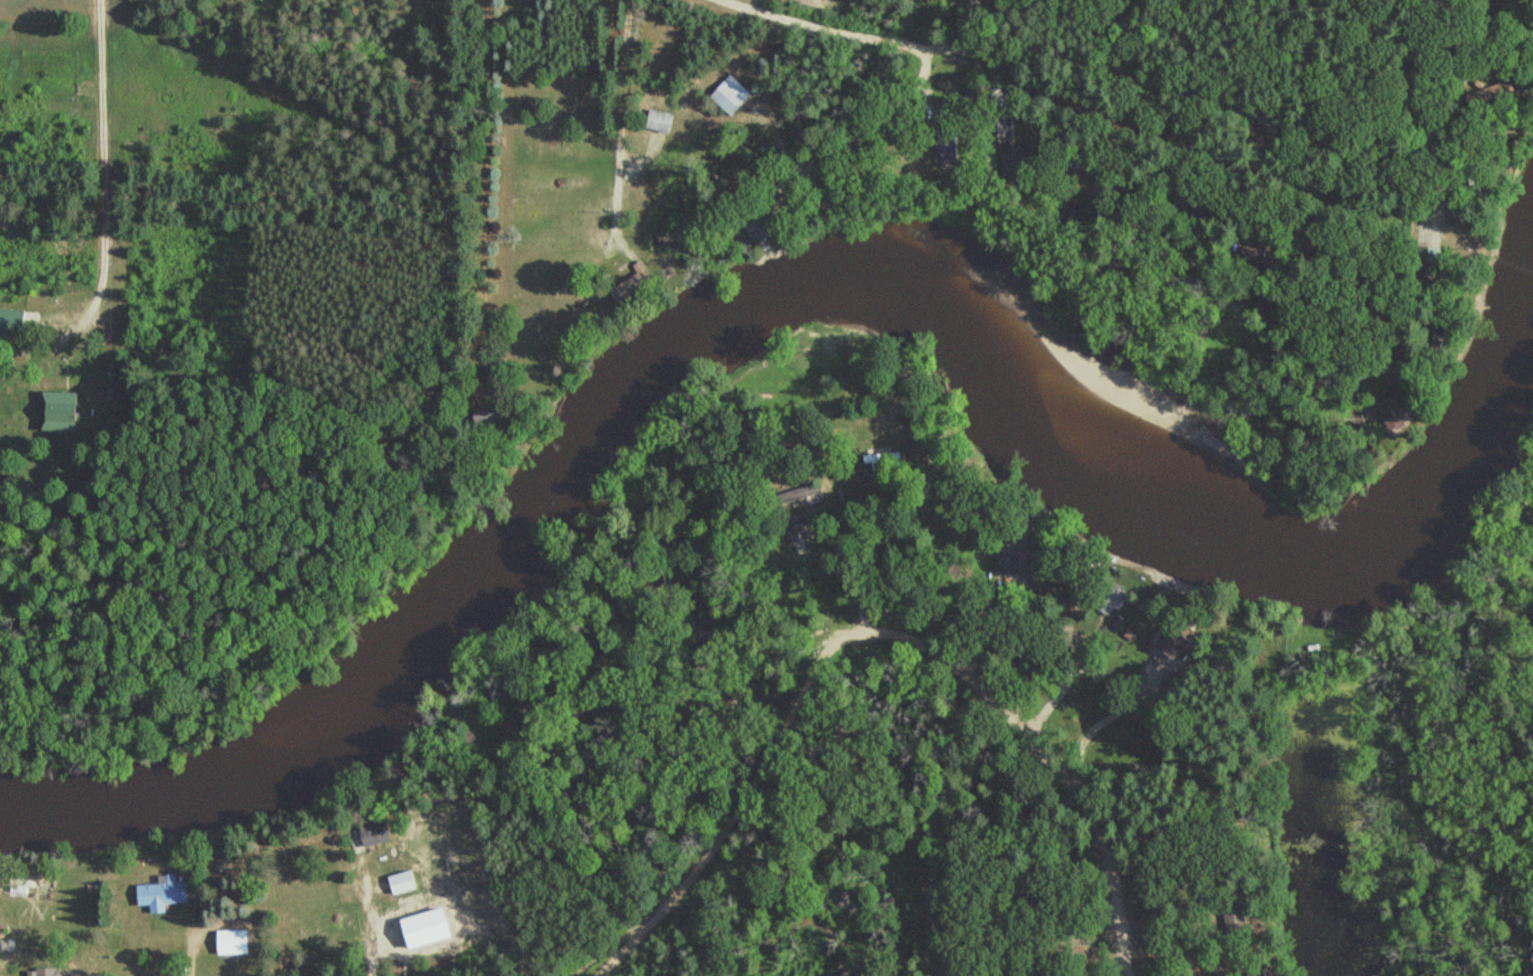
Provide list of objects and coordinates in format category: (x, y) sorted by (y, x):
road: (1385, 9)
road: (1500, 17)
road: (1449, 20)
road: (1097, 67)
building: (734, 95)
building: (664, 121)
road: (627, 138)
road: (802, 165)
building: (764, 230)
building: (645, 273)
river: (783, 295)
building: (13, 321)
building: (65, 411)
building: (810, 489)
building: (800, 527)
road: (872, 636)
building: (1181, 640)
road: (676, 751)
road: (658, 811)
building: (379, 832)
road: (541, 858)
building: (403, 882)
building: (35, 888)
building: (165, 892)
road: (486, 902)
building: (236, 941)
road: (253, 952)

